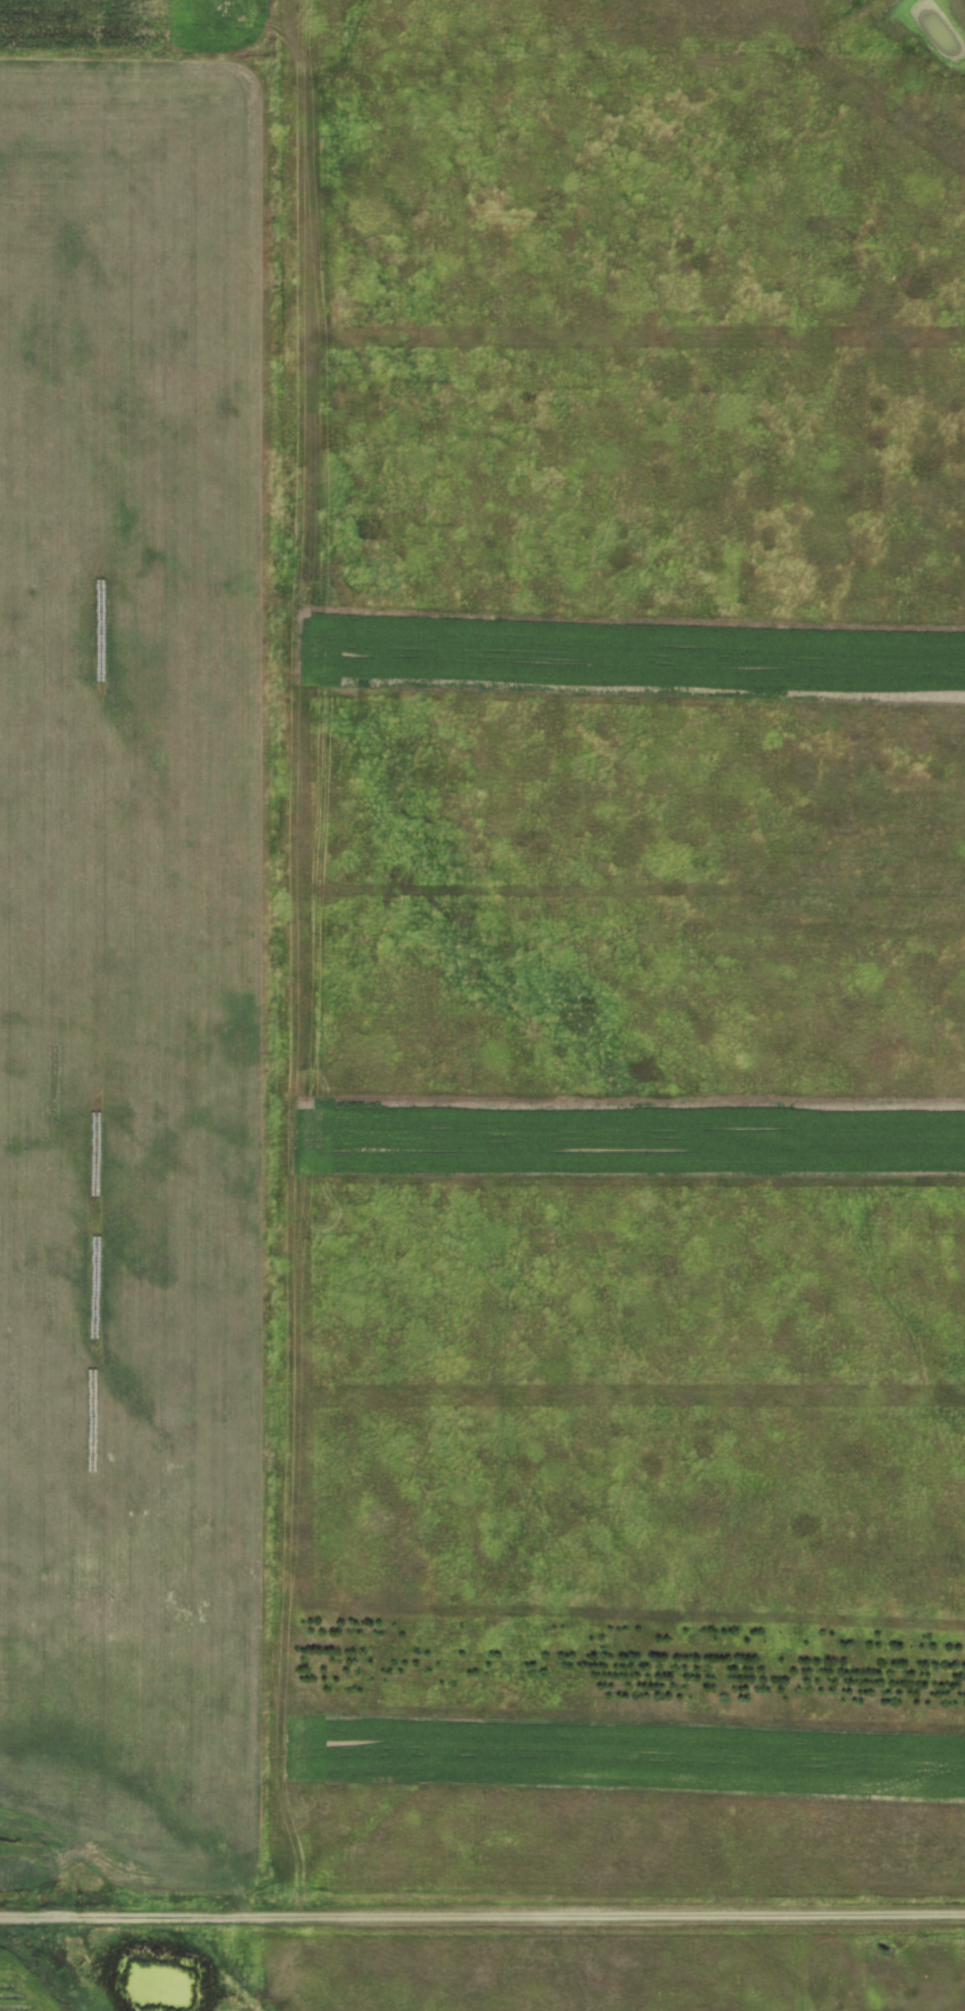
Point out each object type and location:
road: (482, 1919)

